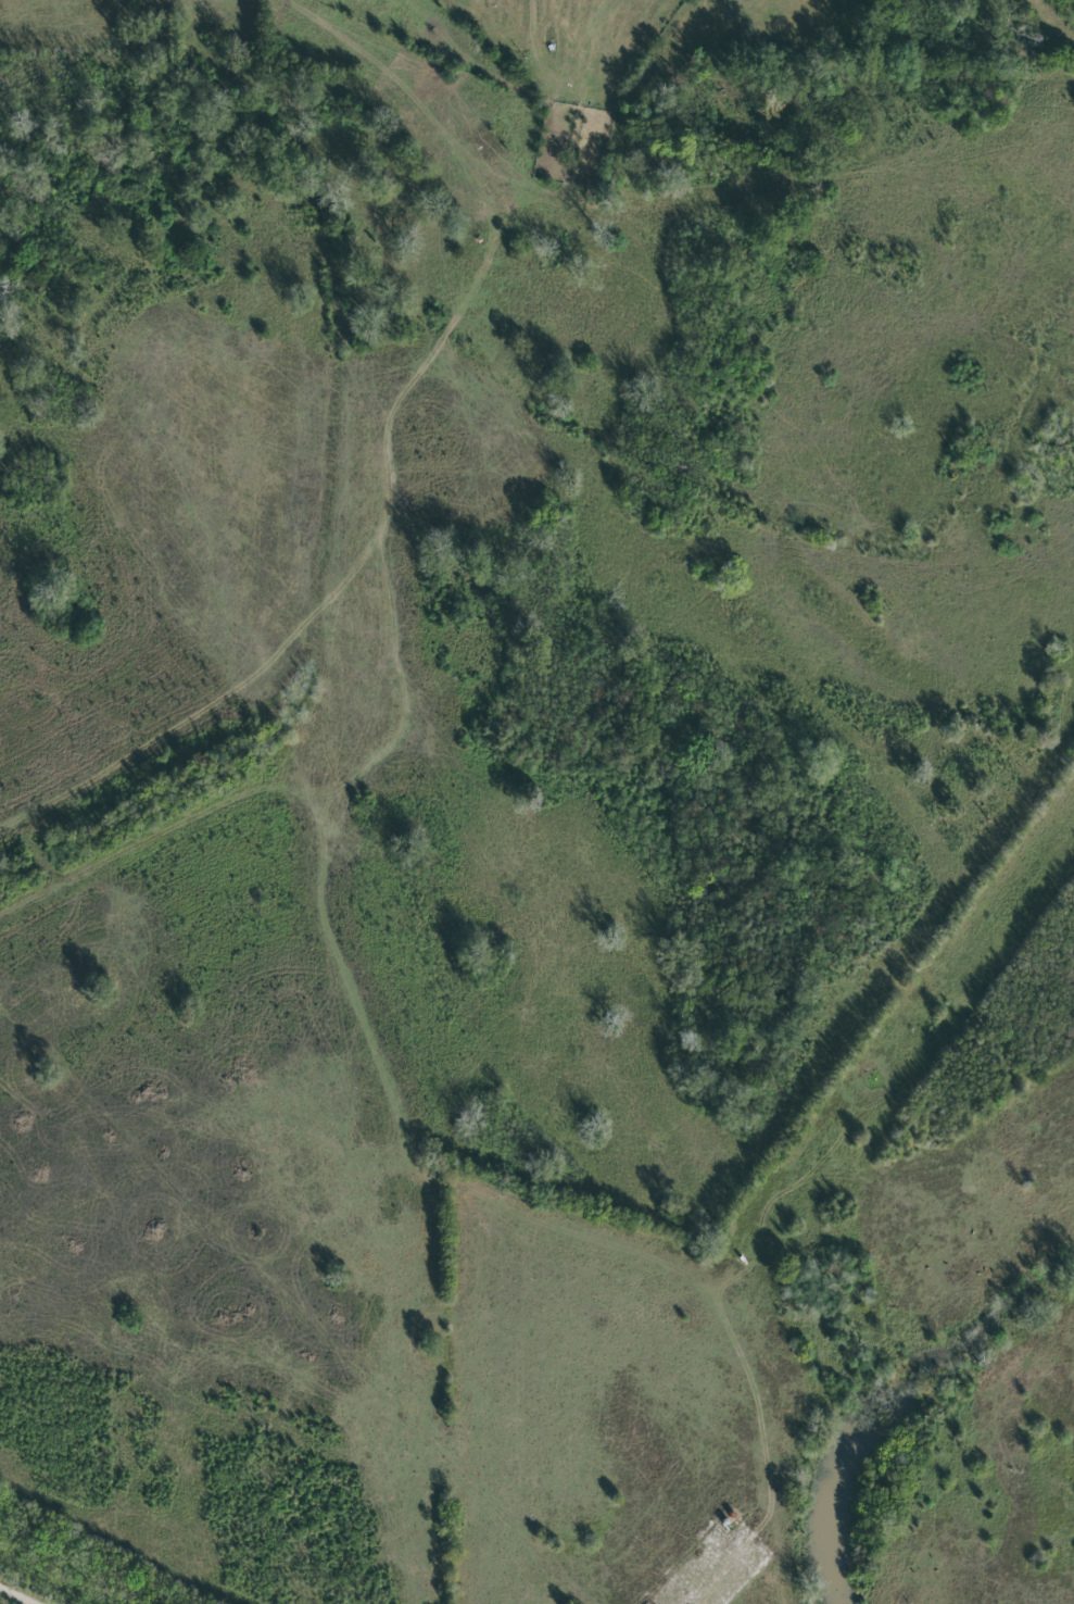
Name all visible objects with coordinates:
road: (543, 14)
road: (38, 793)
road: (22, 1593)

